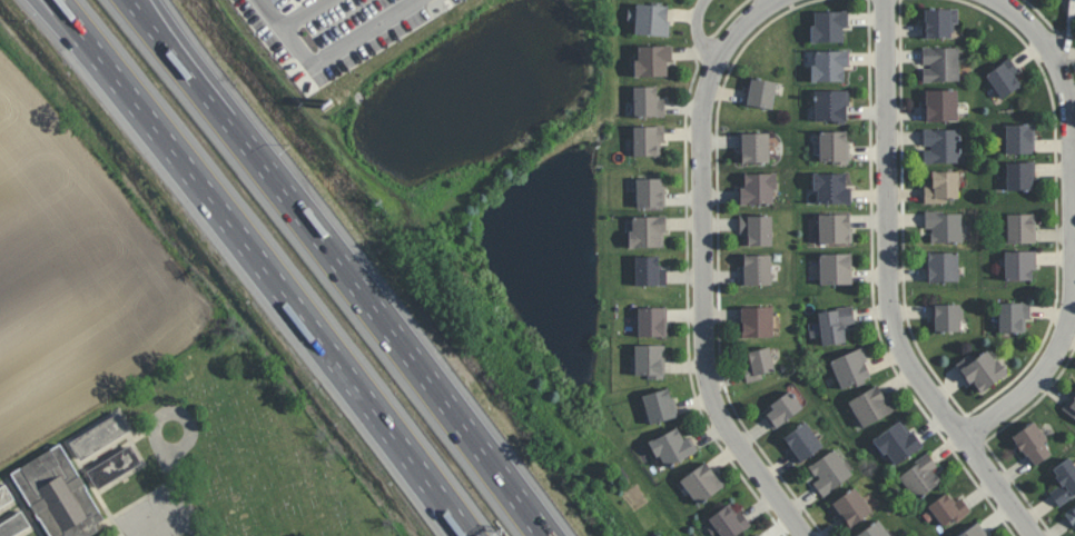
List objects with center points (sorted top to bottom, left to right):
road: (777, 0)
road: (306, 13)
building: (649, 19)
road: (73, 20)
building: (939, 22)
building: (828, 26)
road: (1073, 29)
road: (699, 32)
road: (185, 38)
road: (331, 54)
building: (652, 60)
building: (829, 64)
building: (940, 64)
building: (1004, 79)
building: (761, 92)
building: (648, 102)
building: (830, 105)
building: (940, 105)
building: (1019, 138)
building: (648, 140)
building: (834, 146)
building: (941, 146)
building: (755, 148)
building: (1019, 176)
building: (943, 187)
building: (758, 188)
building: (831, 188)
building: (650, 192)
road: (1069, 225)
building: (944, 226)
building: (835, 228)
building: (1020, 228)
building: (757, 229)
building: (648, 231)
road: (349, 264)
building: (1019, 265)
road: (272, 266)
building: (943, 266)
road: (703, 268)
building: (835, 268)
building: (757, 269)
building: (649, 271)
road: (888, 291)
building: (1014, 316)
building: (947, 317)
building: (652, 321)
building: (757, 321)
building: (835, 325)
building: (650, 360)
building: (759, 364)
building: (850, 368)
building: (980, 370)
building: (660, 405)
building: (870, 406)
building: (1071, 406)
building: (782, 409)
road: (158, 418)
building: (99, 436)
building: (801, 441)
building: (898, 443)
building: (1032, 444)
building: (672, 447)
park: (185, 458)
building: (114, 467)
building: (829, 472)
building: (920, 476)
building: (1064, 482)
building: (701, 483)
road: (174, 489)
building: (58, 495)
building: (4, 496)
building: (850, 507)
building: (948, 508)
building: (1071, 516)
building: (727, 522)
building: (14, 526)
building: (874, 529)
building: (974, 530)
building: (758, 535)

